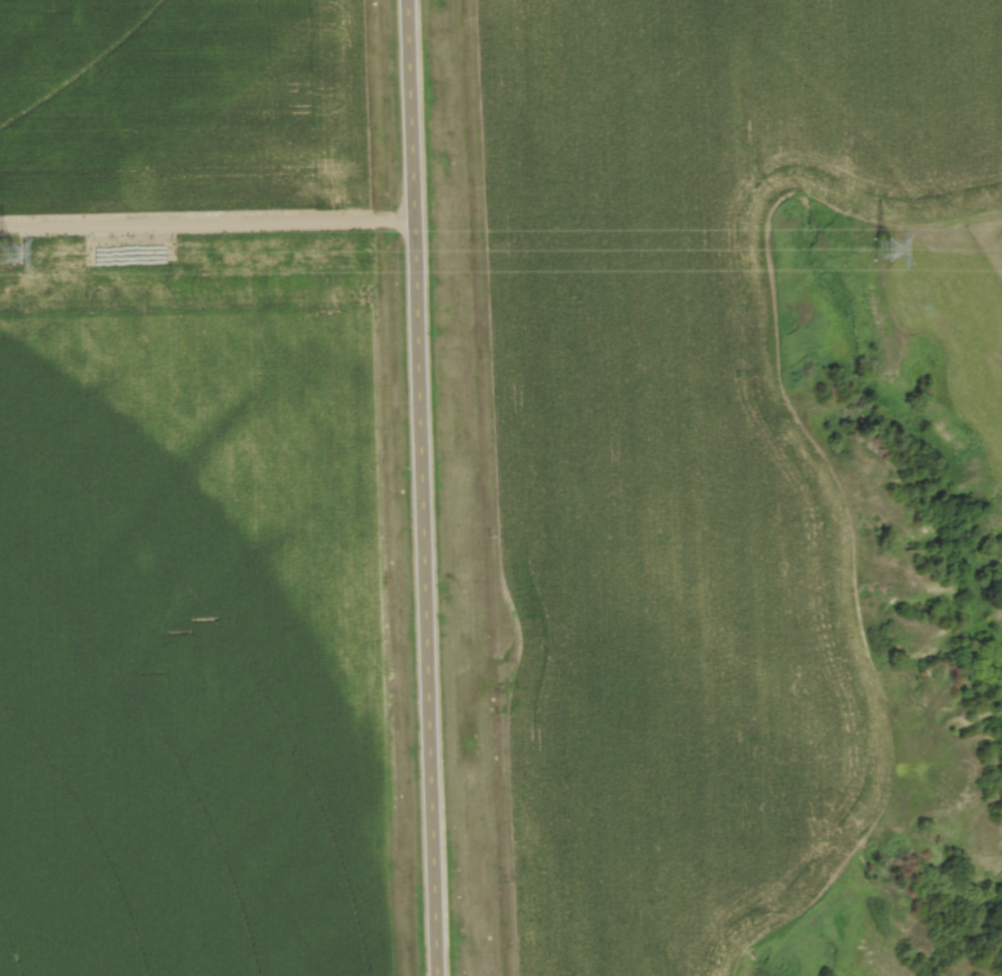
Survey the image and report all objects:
road: (207, 225)
power tower: (876, 251)
power tower: (2, 257)
road: (421, 488)

